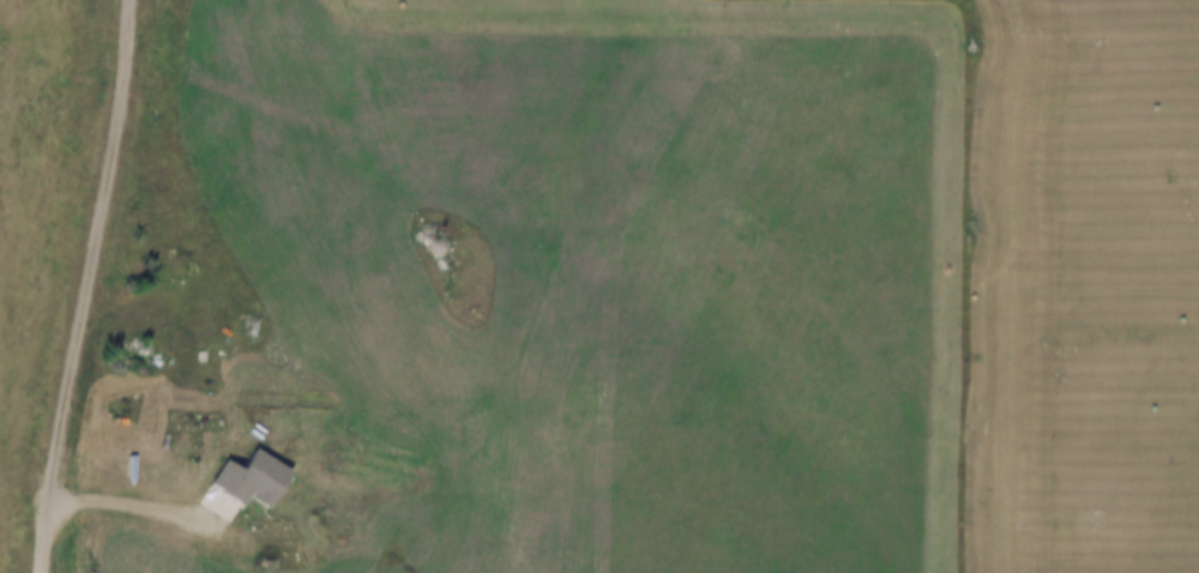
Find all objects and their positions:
road: (84, 286)
building: (261, 478)

